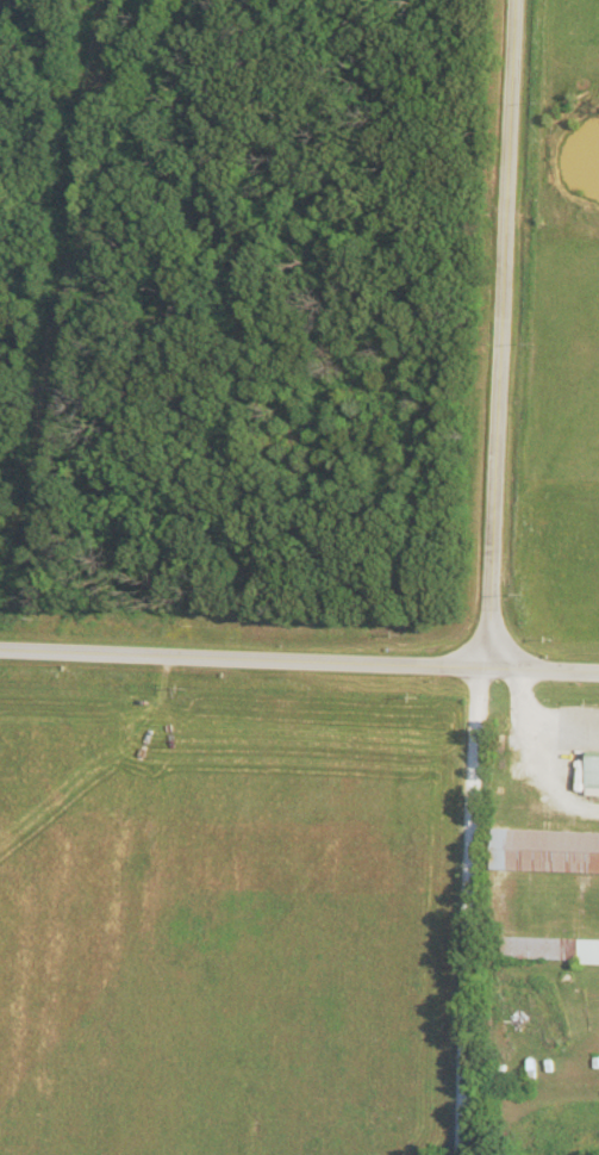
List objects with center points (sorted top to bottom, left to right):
road: (503, 333)
road: (241, 656)
road: (539, 669)
road: (472, 909)
building: (553, 948)

